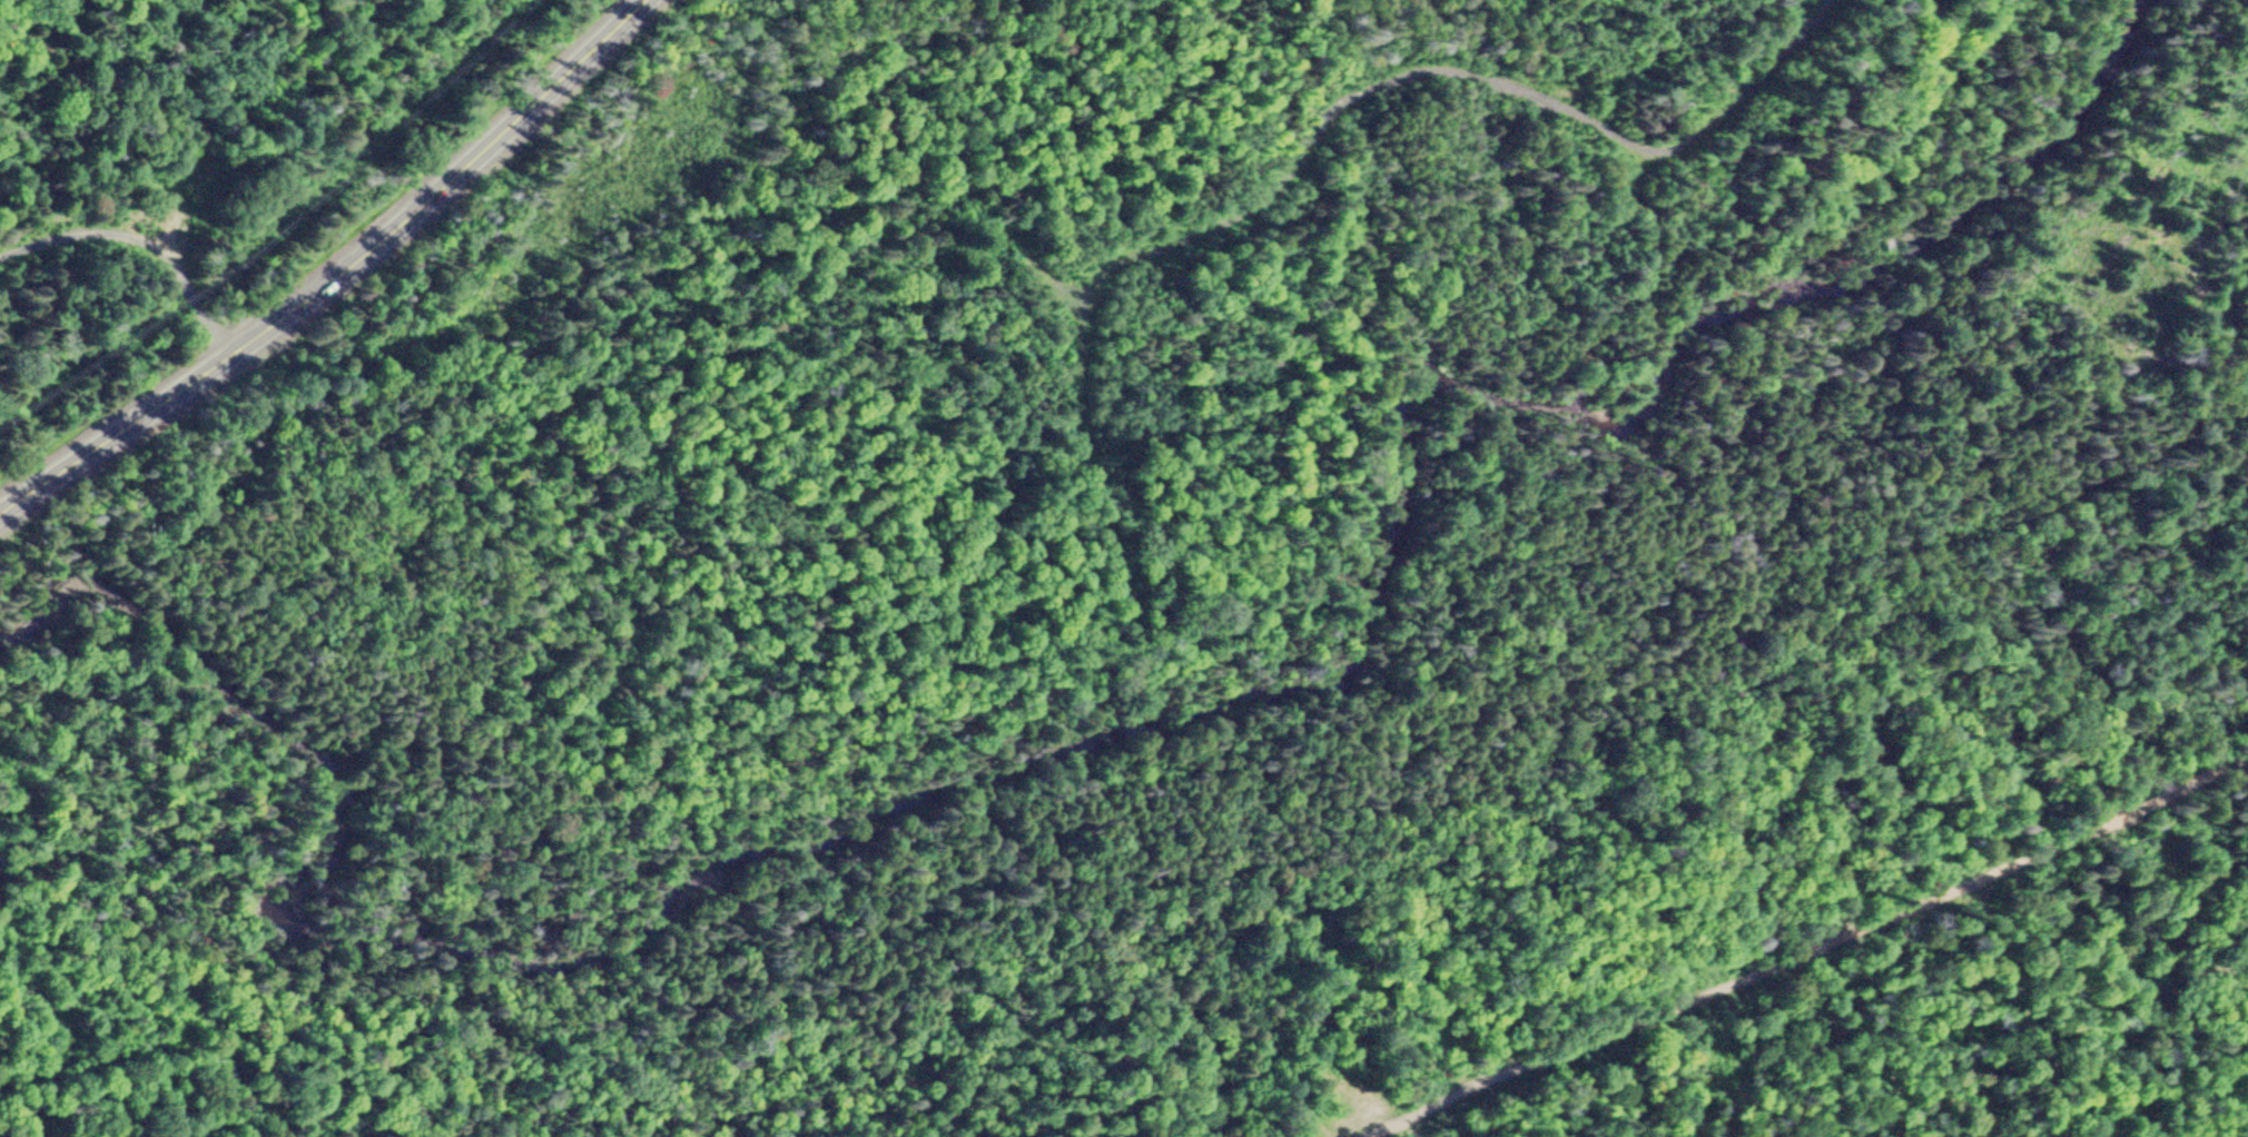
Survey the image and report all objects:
road: (139, 245)
road: (334, 276)
river: (1623, 427)
river: (285, 708)
river: (803, 876)
road: (1823, 949)

